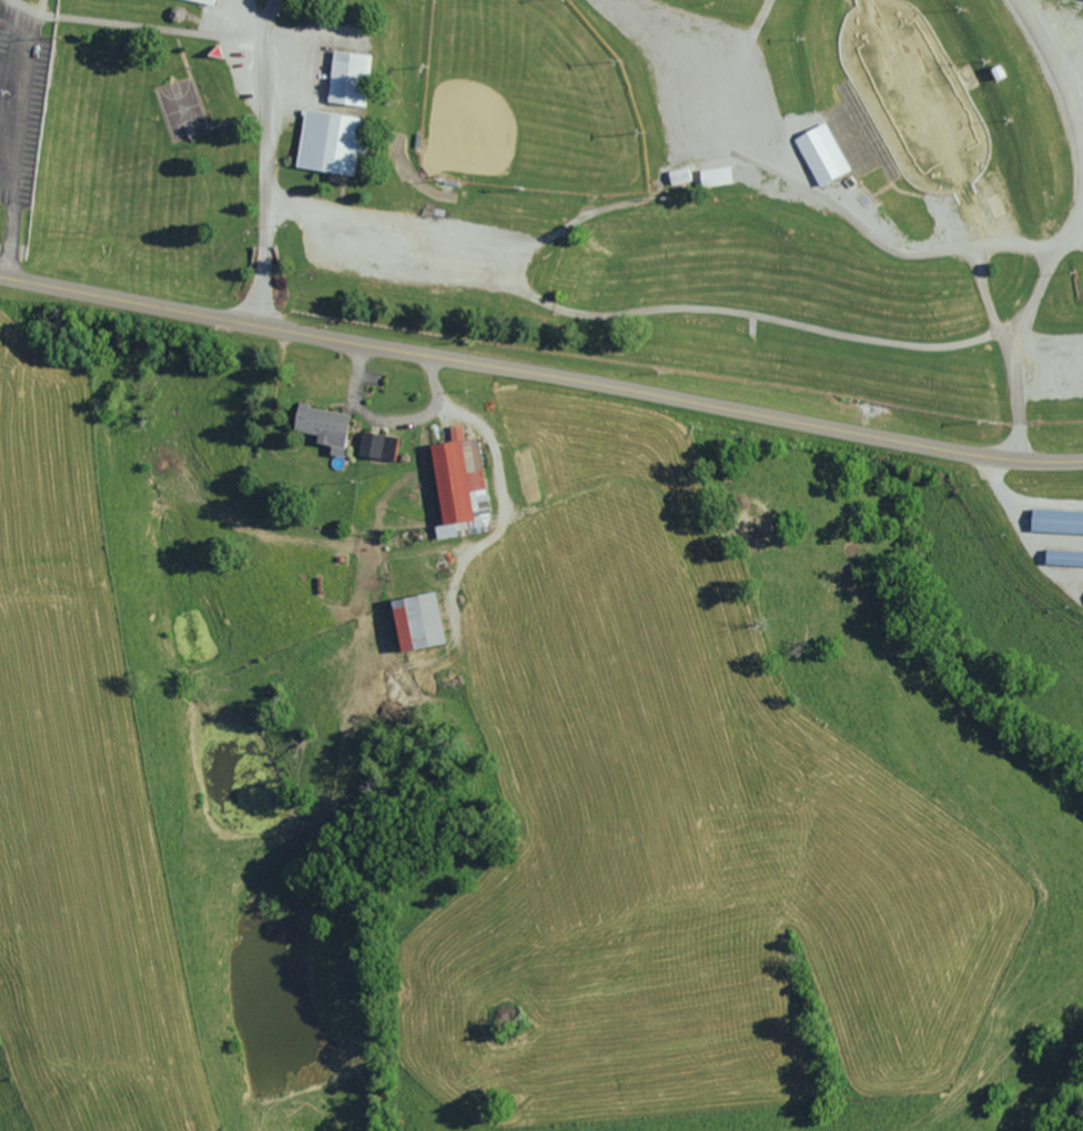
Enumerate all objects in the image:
building: (209, 0)
building: (353, 78)
park: (528, 100)
building: (333, 142)
road: (18, 152)
building: (820, 153)
road: (661, 173)
building: (685, 175)
building: (722, 175)
park: (601, 180)
road: (8, 188)
road: (243, 271)
road: (120, 297)
road: (660, 394)
building: (331, 424)
building: (384, 444)
building: (468, 484)
building: (1054, 521)
building: (1062, 556)
building: (427, 620)

